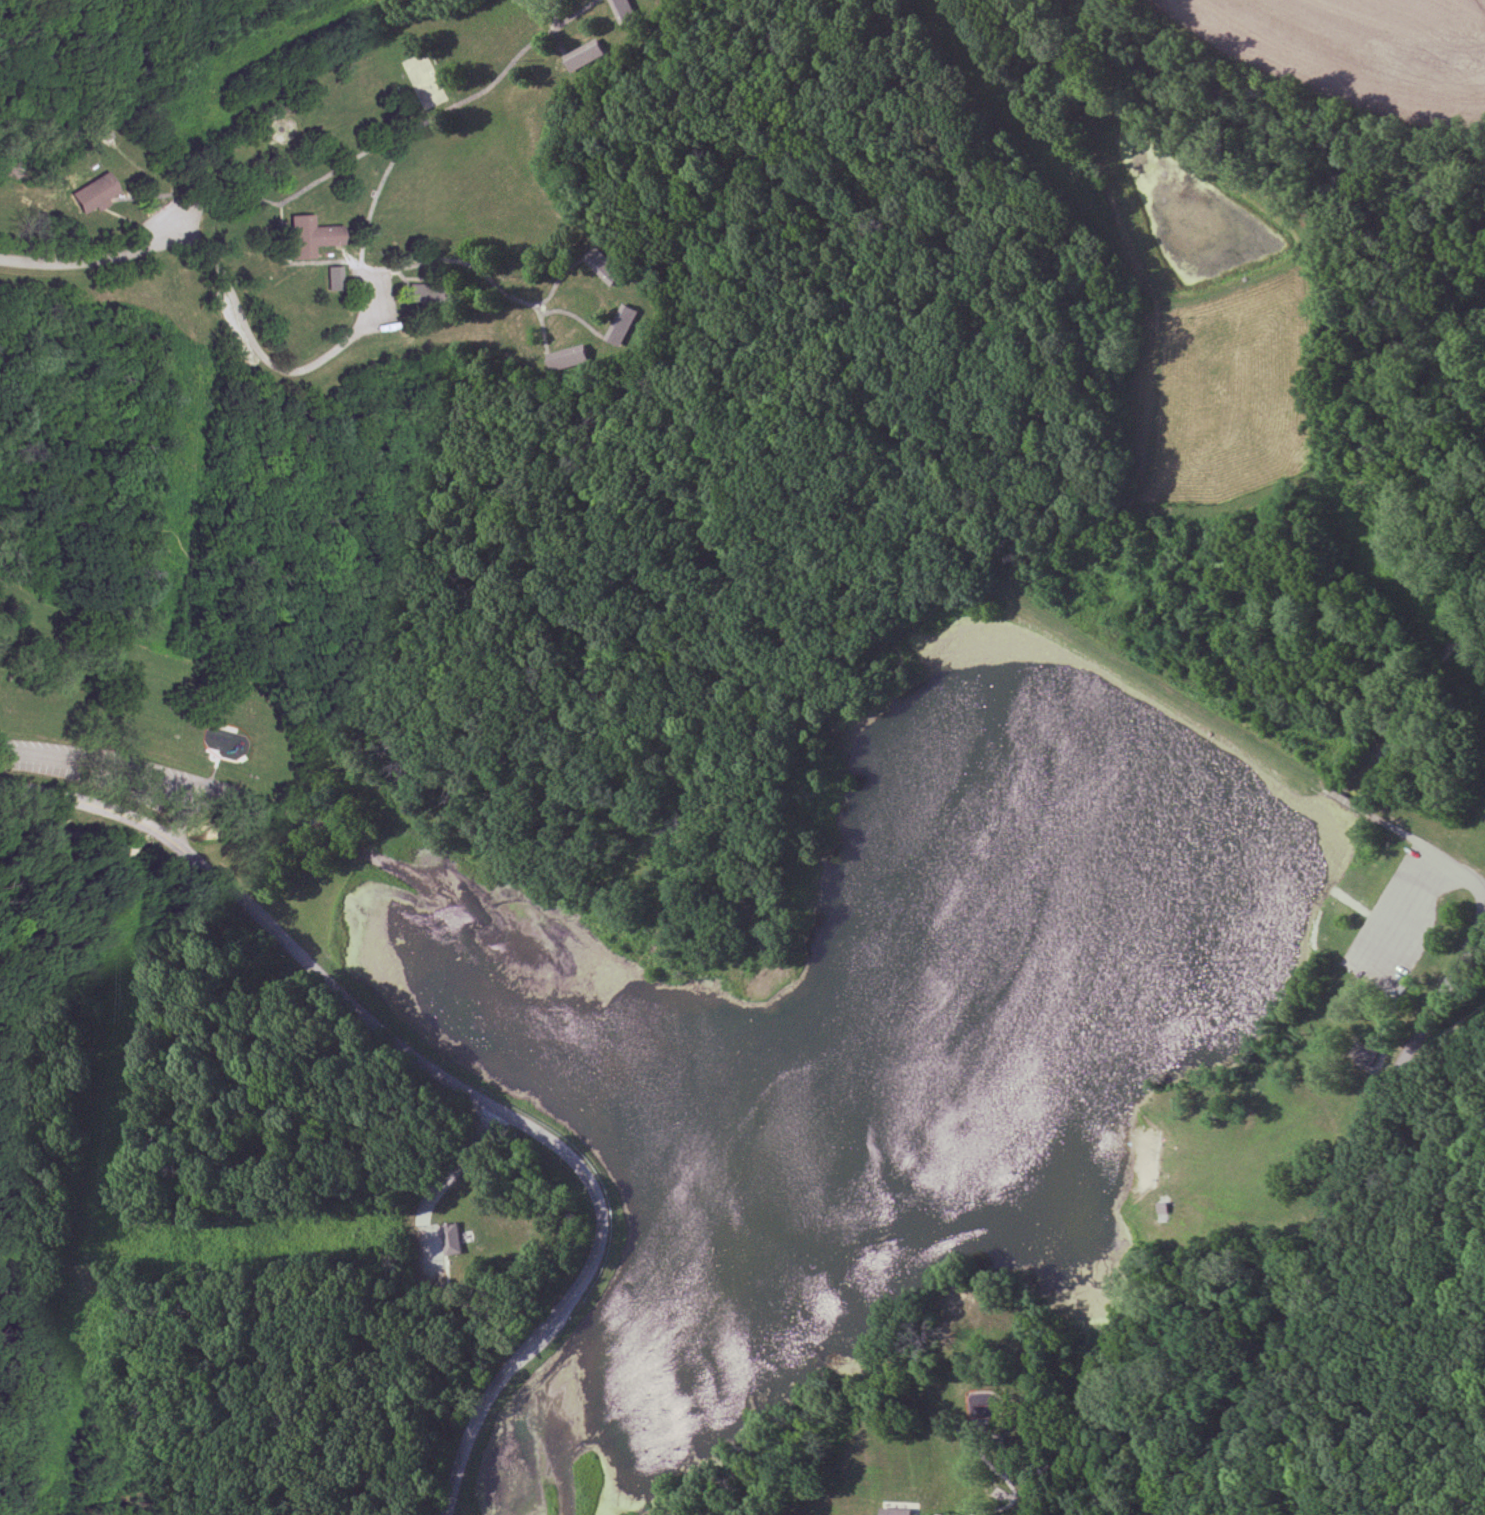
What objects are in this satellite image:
building: (627, 13)
crop: (1343, 52)
building: (588, 56)
road: (384, 142)
building: (96, 191)
building: (312, 236)
road: (99, 258)
building: (609, 266)
building: (336, 277)
building: (432, 293)
road: (233, 302)
building: (632, 323)
road: (336, 350)
building: (577, 357)
road: (684, 645)
road: (1169, 683)
road: (3, 725)
park: (742, 757)
road: (113, 775)
parking lot: (118, 776)
road: (1405, 835)
parking lot: (1411, 924)
road: (1404, 939)
road: (1453, 1036)
road: (448, 1086)
road: (440, 1185)
road: (1333, 1201)
road: (1308, 1309)
road: (1002, 1443)
road: (1007, 1457)
road: (1017, 1486)
road: (921, 1507)
building: (895, 1511)

